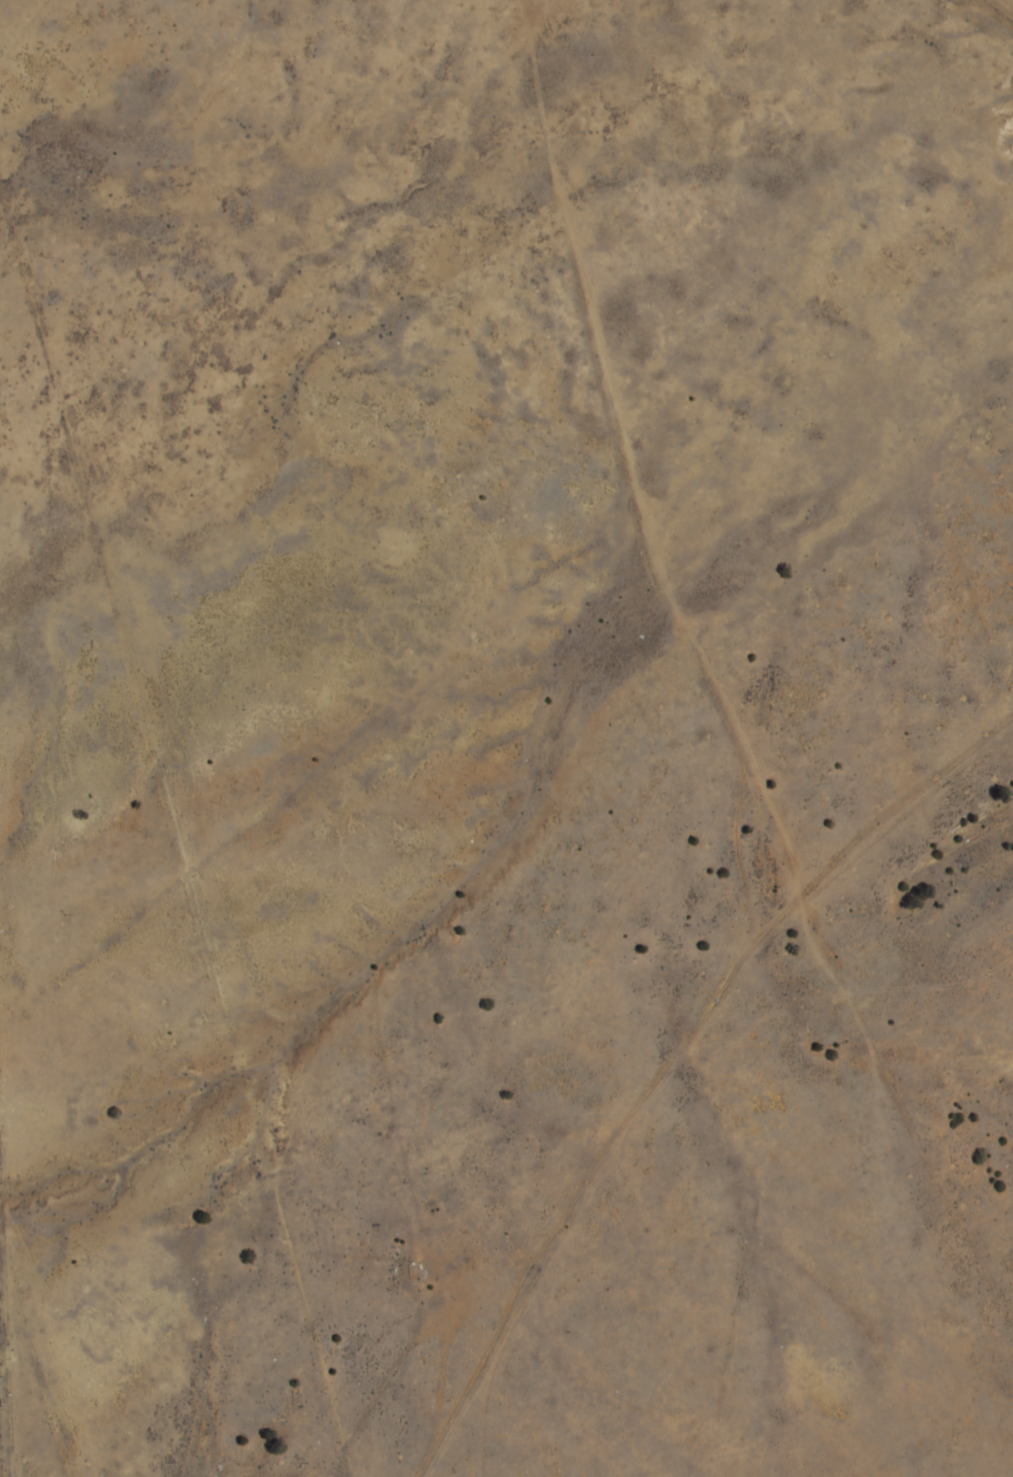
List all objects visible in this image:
road: (131, 1243)

